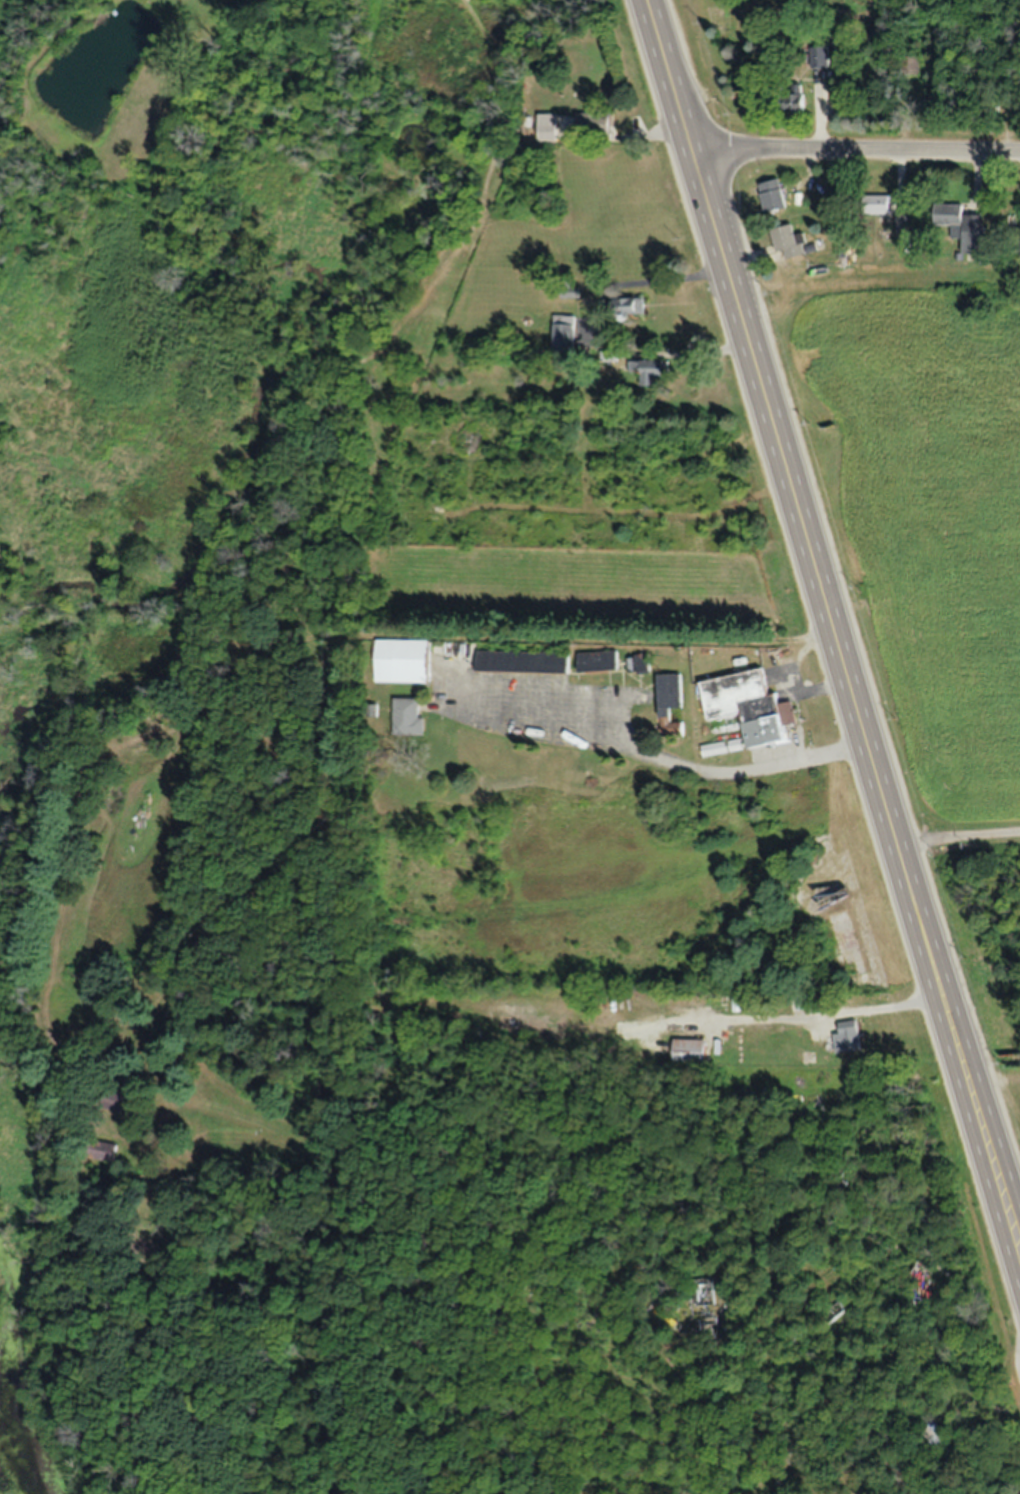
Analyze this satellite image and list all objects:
building: (819, 58)
road: (671, 78)
building: (794, 103)
building: (593, 125)
building: (547, 126)
road: (857, 159)
building: (772, 196)
building: (878, 204)
building: (961, 226)
building: (789, 243)
road: (671, 279)
building: (630, 306)
building: (564, 334)
building: (649, 372)
building: (402, 661)
building: (597, 661)
building: (522, 662)
building: (638, 663)
road: (858, 703)
building: (669, 704)
building: (749, 707)
building: (408, 716)
building: (734, 745)
building: (715, 748)
road: (743, 770)
road: (959, 839)
road: (868, 1008)
building: (847, 1037)
building: (689, 1051)
building: (118, 1101)
building: (106, 1152)
road: (1019, 1352)
building: (936, 1442)

